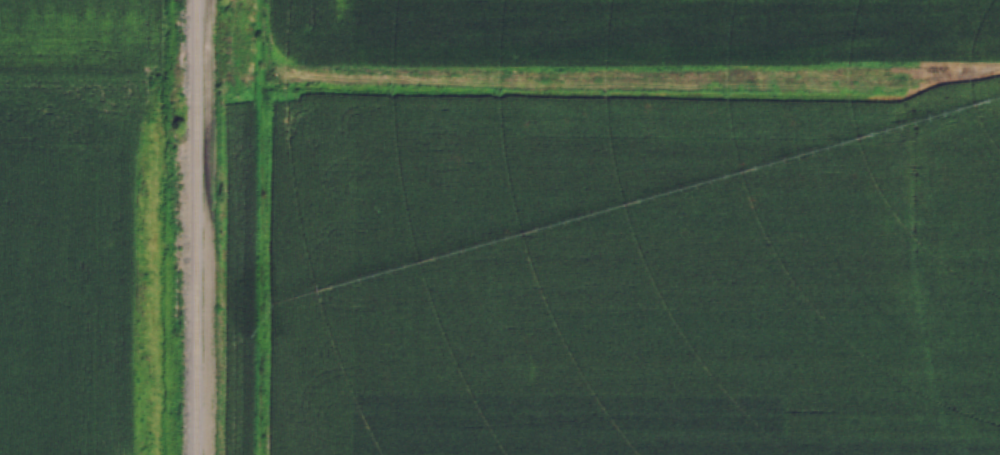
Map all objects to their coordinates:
railway: (197, 227)

